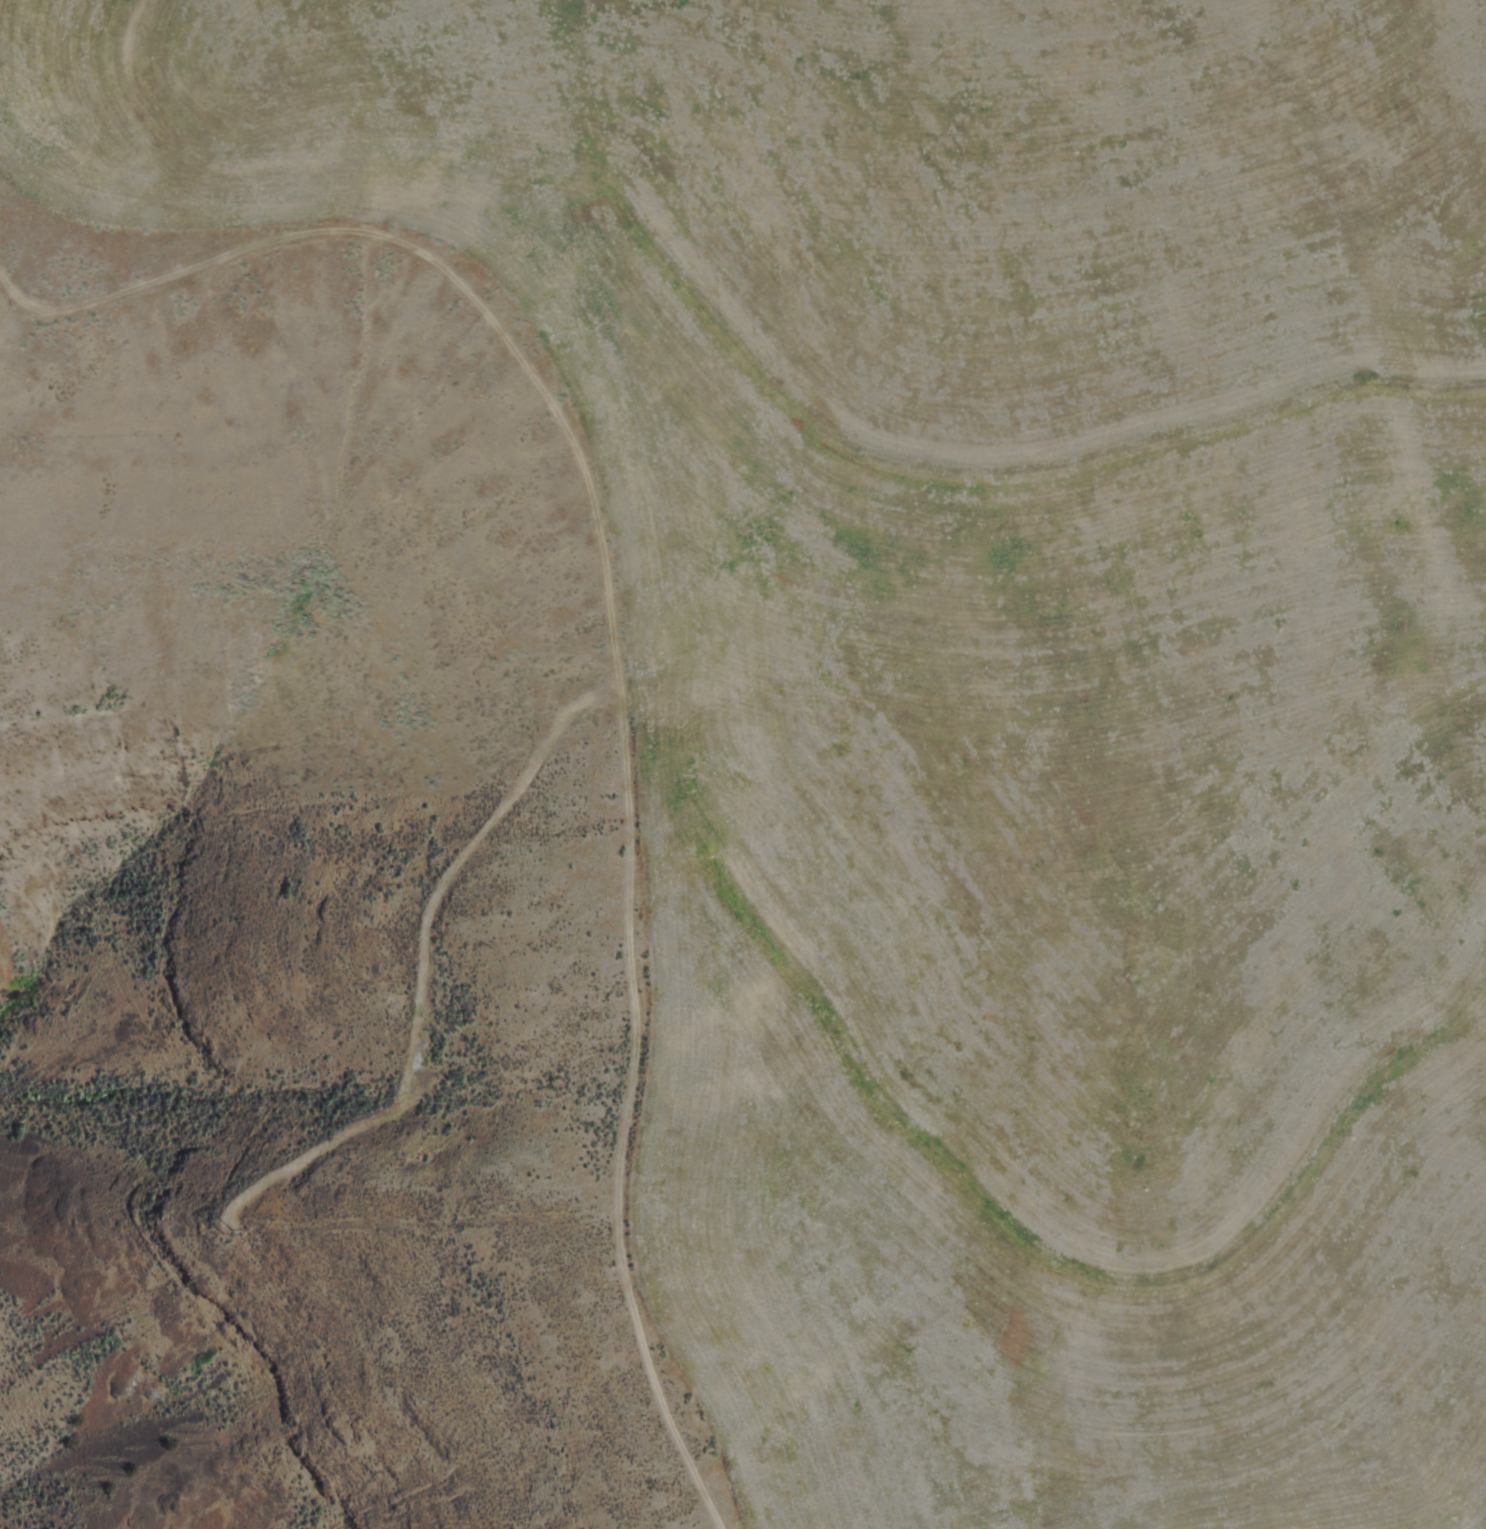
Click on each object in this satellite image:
power tower: (231, 1230)

